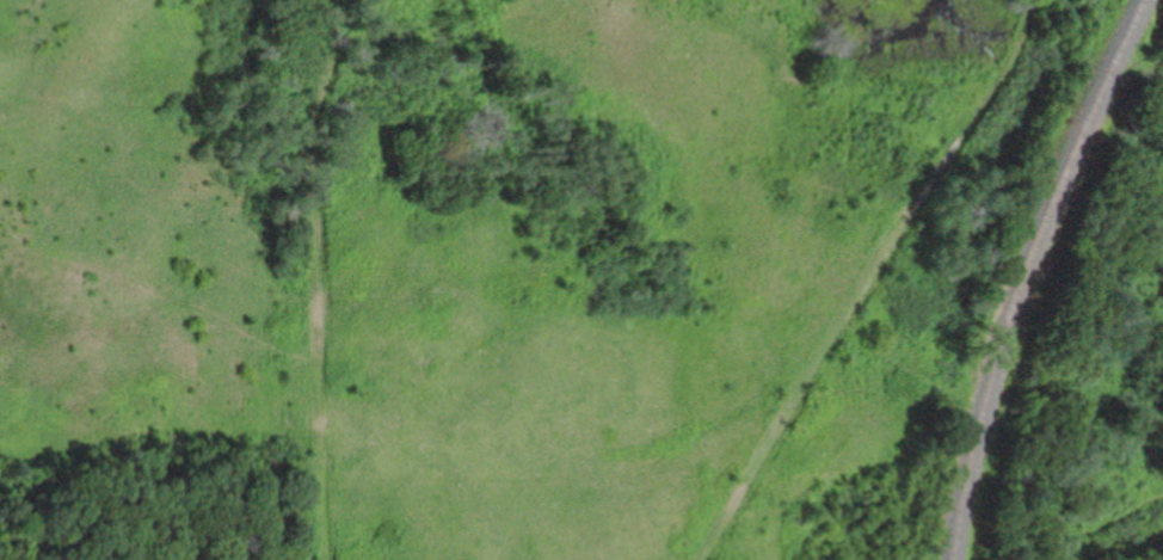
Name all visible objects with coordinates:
park: (598, 270)
railway: (1030, 272)
road: (873, 277)
road: (322, 278)

